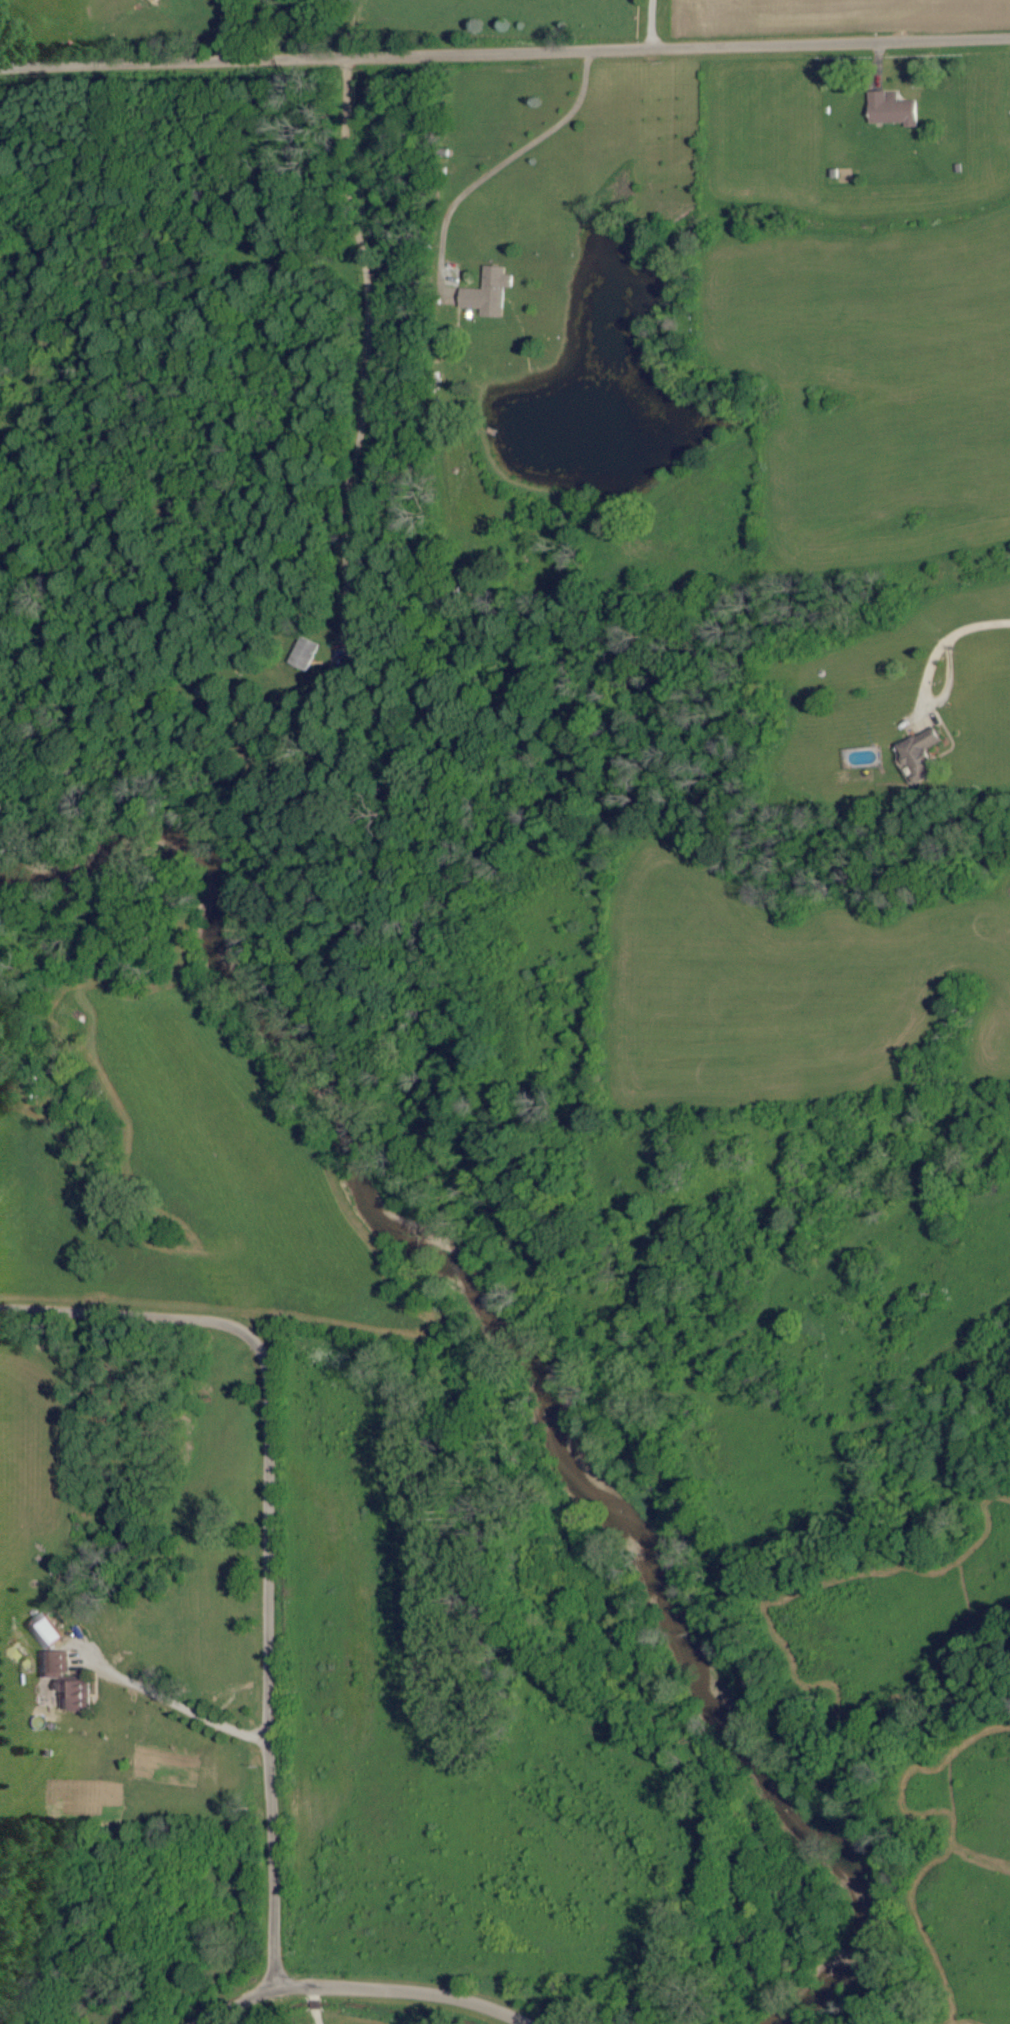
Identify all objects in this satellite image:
road: (651, 23)
road: (504, 51)
building: (887, 109)
building: (493, 293)
road: (364, 350)
road: (977, 626)
building: (306, 652)
road: (932, 704)
road: (270, 1532)
building: (50, 1631)
building: (70, 1682)
road: (171, 1701)
road: (406, 1990)
road: (232, 2002)
road: (312, 2005)

